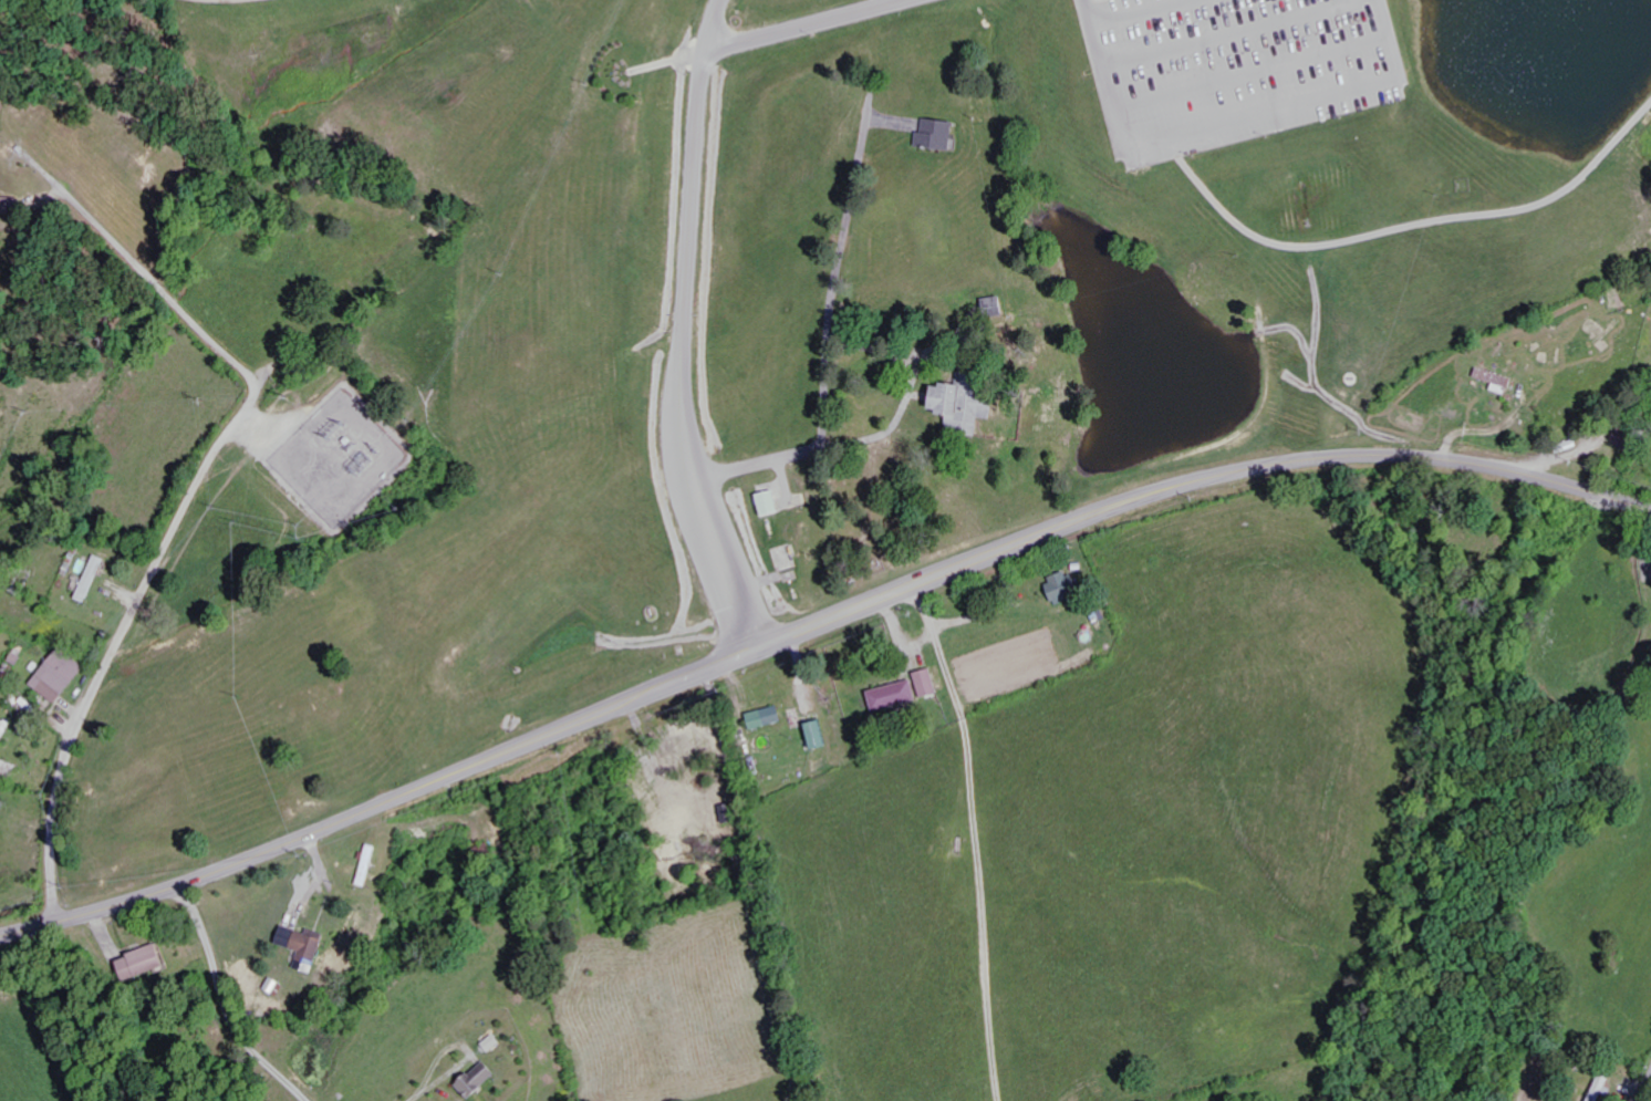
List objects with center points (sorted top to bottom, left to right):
road: (800, 24)
parking lot: (1234, 69)
building: (941, 135)
building: (0, 190)
building: (11, 204)
building: (998, 304)
road: (684, 328)
building: (972, 402)
power substation: (340, 457)
building: (772, 503)
building: (89, 575)
building: (95, 578)
building: (1067, 586)
road: (813, 624)
road: (117, 643)
building: (62, 675)
building: (930, 684)
building: (896, 697)
building: (768, 717)
building: (821, 735)
building: (9, 769)
road: (975, 838)
building: (371, 865)
building: (307, 946)
building: (147, 964)
building: (480, 1080)
road: (1644, 1088)
building: (1602, 1089)

